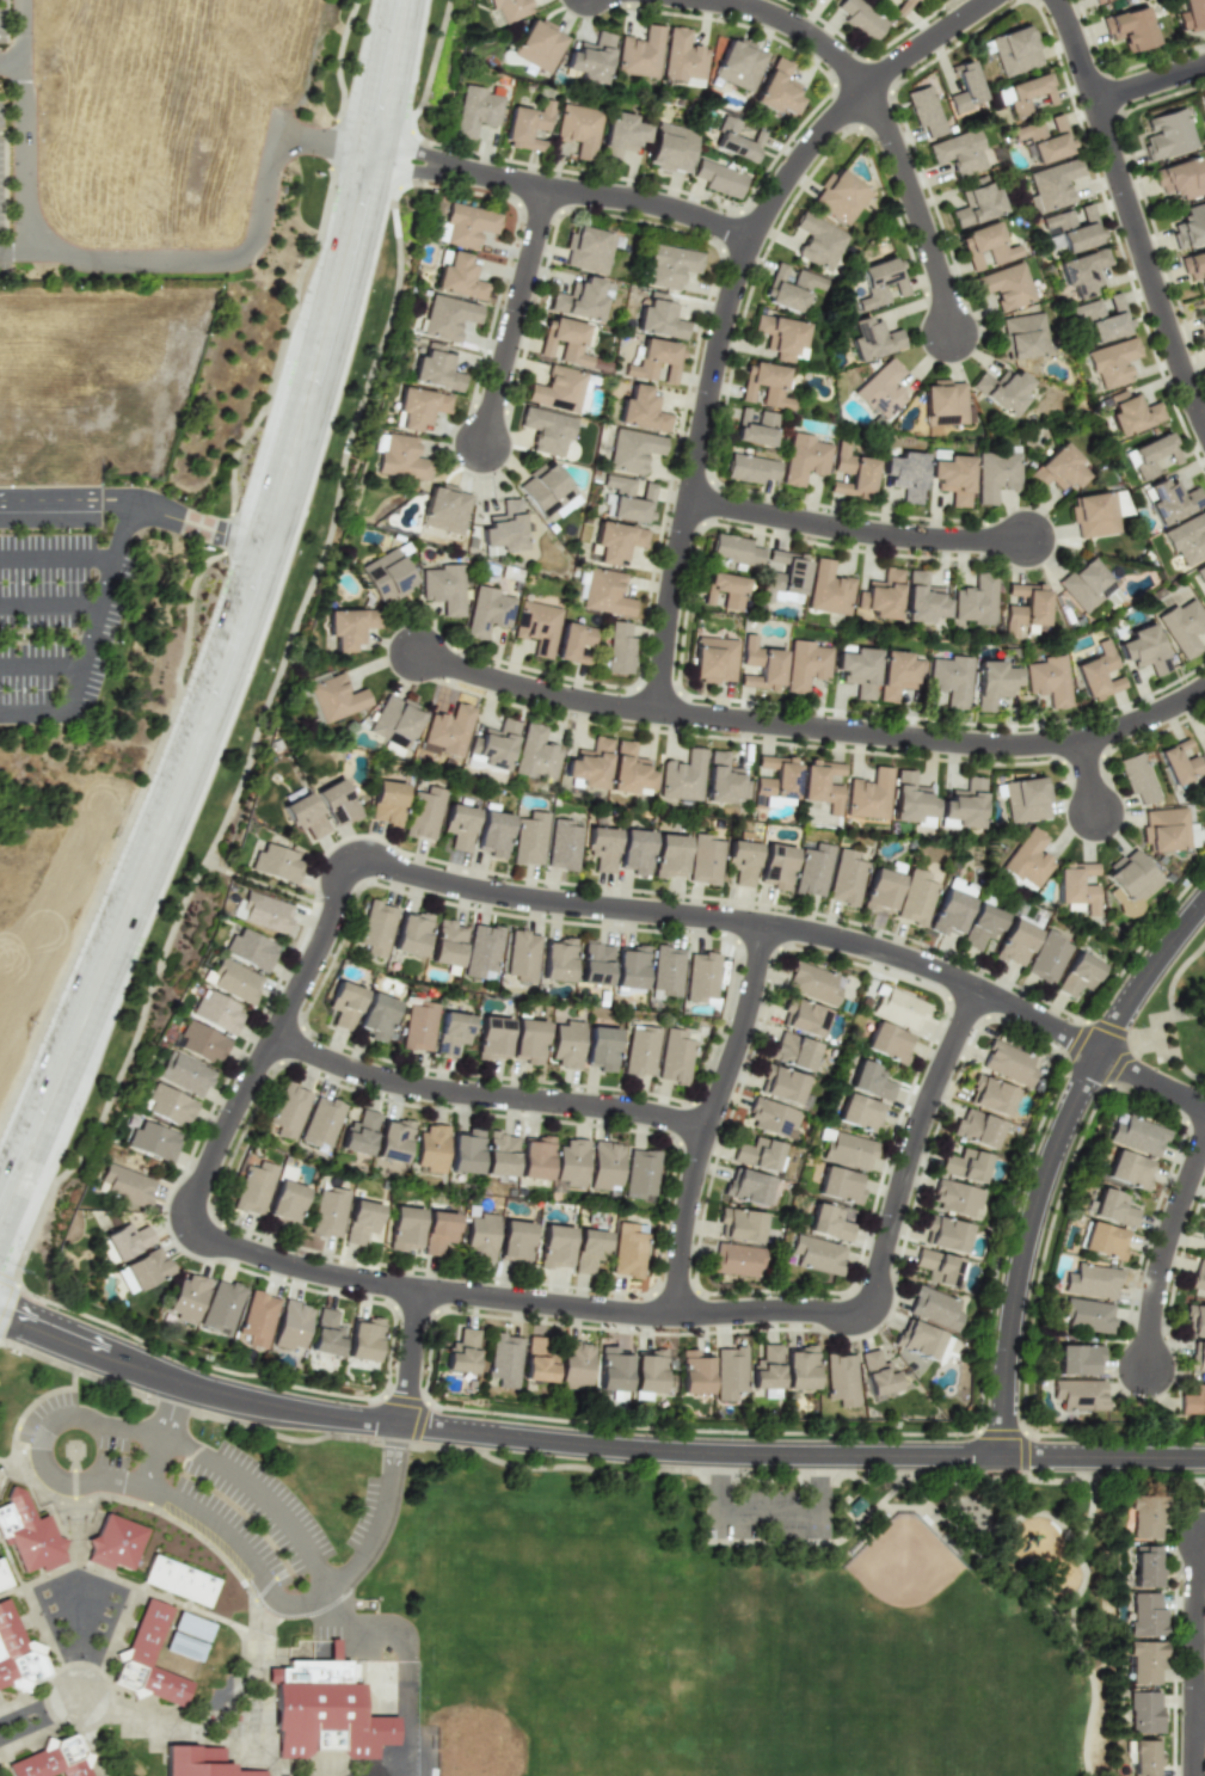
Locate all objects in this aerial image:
building: (1095, 0)
building: (890, 2)
building: (900, 7)
building: (509, 8)
building: (1191, 14)
building: (860, 18)
road: (797, 26)
building: (1129, 29)
building: (539, 45)
building: (1014, 48)
building: (639, 54)
building: (590, 57)
building: (682, 59)
street lamp: (351, 60)
road: (11, 63)
building: (738, 64)
road: (370, 75)
road: (401, 78)
road: (1150, 84)
building: (964, 87)
building: (776, 88)
street lamp: (430, 91)
building: (1027, 93)
building: (1204, 100)
street lamp: (41, 111)
building: (474, 111)
building: (924, 111)
road: (279, 124)
building: (525, 125)
building: (577, 129)
building: (621, 134)
building: (1167, 134)
building: (1045, 137)
building: (736, 139)
building: (670, 148)
road: (371, 153)
building: (958, 153)
street lamp: (311, 158)
building: (718, 178)
building: (1180, 178)
building: (1051, 185)
road: (571, 192)
building: (840, 196)
building: (976, 203)
road: (918, 210)
street lamp: (248, 211)
road: (1130, 211)
building: (467, 225)
building: (1189, 226)
building: (1074, 228)
building: (817, 241)
building: (1053, 244)
building: (985, 245)
street lamp: (183, 246)
street lamp: (94, 248)
building: (589, 248)
street lamp: (301, 251)
road: (24, 253)
road: (331, 256)
road: (119, 262)
building: (669, 265)
building: (1193, 268)
building: (1082, 272)
road: (359, 274)
building: (459, 278)
building: (881, 282)
building: (1006, 287)
building: (789, 288)
building: (579, 299)
building: (1204, 299)
road: (730, 306)
building: (1103, 315)
road: (517, 317)
building: (447, 318)
building: (659, 319)
building: (1203, 322)
building: (780, 336)
building: (1022, 336)
building: (873, 337)
building: (564, 342)
building: (656, 361)
building: (1113, 362)
building: (436, 370)
street lamp: (362, 375)
building: (764, 385)
building: (561, 389)
building: (881, 389)
building: (1002, 389)
building: (945, 404)
building: (419, 407)
building: (641, 411)
building: (1132, 412)
building: (546, 430)
building: (632, 450)
road: (275, 453)
building: (1150, 455)
building: (399, 457)
building: (805, 459)
building: (750, 468)
building: (1058, 468)
road: (303, 472)
building: (850, 473)
building: (904, 473)
building: (996, 473)
building: (951, 474)
building: (547, 492)
building: (625, 499)
building: (1169, 499)
road: (66, 500)
building: (444, 509)
street lamp: (227, 514)
building: (1093, 514)
building: (503, 529)
road: (859, 531)
building: (1186, 539)
building: (615, 541)
building: (734, 551)
road: (59, 558)
building: (1200, 573)
building: (386, 576)
road: (111, 577)
building: (782, 578)
building: (1087, 585)
building: (442, 588)
building: (828, 588)
building: (724, 590)
building: (602, 592)
building: (879, 595)
building: (922, 600)
building: (975, 600)
road: (51, 607)
building: (1023, 607)
building: (486, 612)
building: (349, 626)
building: (535, 626)
building: (1182, 626)
road: (47, 635)
building: (572, 643)
building: (619, 649)
building: (1143, 649)
street lamp: (265, 659)
building: (713, 659)
building: (805, 664)
building: (758, 665)
road: (43, 666)
building: (856, 668)
building: (1098, 672)
building: (897, 674)
building: (948, 678)
building: (1046, 680)
building: (992, 682)
road: (536, 690)
building: (334, 698)
building: (394, 721)
building: (447, 731)
road: (26, 737)
road: (935, 740)
building: (491, 745)
building: (534, 752)
building: (1204, 758)
road: (64, 762)
building: (1178, 762)
building: (589, 763)
street lamp: (131, 767)
building: (628, 769)
building: (681, 776)
road: (1090, 776)
building: (1136, 778)
building: (723, 780)
building: (774, 782)
building: (820, 785)
building: (868, 795)
building: (910, 800)
building: (1025, 800)
building: (336, 803)
building: (386, 803)
building: (961, 806)
building: (423, 813)
building: (303, 815)
building: (457, 825)
building: (1163, 829)
building: (492, 834)
building: (1191, 835)
building: (528, 838)
building: (561, 846)
building: (600, 848)
building: (633, 850)
building: (668, 856)
building: (703, 860)
building: (739, 861)
building: (1025, 861)
building: (276, 864)
building: (775, 866)
building: (811, 869)
building: (843, 878)
building: (1127, 881)
building: (1075, 885)
road: (139, 887)
road: (270, 887)
building: (879, 891)
building: (914, 898)
street lamp: (177, 903)
building: (949, 909)
building: (264, 911)
building: (979, 926)
building: (374, 928)
road: (794, 929)
building: (410, 934)
building: (1015, 941)
building: (445, 942)
building: (251, 950)
building: (481, 952)
building: (521, 955)
building: (1046, 957)
building: (557, 959)
building: (594, 963)
building: (629, 966)
building: (666, 970)
building: (1076, 975)
building: (700, 976)
building: (233, 981)
building: (813, 983)
building: (344, 1004)
street lamp: (306, 1008)
building: (897, 1008)
building: (217, 1012)
building: (376, 1016)
building: (803, 1018)
street lamp: (29, 1021)
building: (418, 1025)
building: (451, 1032)
building: (492, 1038)
building: (201, 1041)
building: (527, 1041)
building: (887, 1041)
building: (565, 1045)
building: (600, 1049)
building: (640, 1051)
building: (792, 1051)
street lamp: (748, 1053)
building: (674, 1057)
building: (1007, 1063)
building: (184, 1074)
street lamp: (468, 1077)
building: (869, 1081)
building: (780, 1084)
street lamp: (351, 1087)
building: (990, 1095)
road: (488, 1096)
building: (167, 1105)
street lamp: (215, 1110)
building: (287, 1112)
building: (859, 1113)
building: (770, 1117)
road: (713, 1118)
street lamp: (558, 1120)
building: (320, 1121)
building: (976, 1129)
building: (358, 1133)
building: (1136, 1135)
flagpole: (518, 1136)
building: (153, 1141)
building: (392, 1141)
building: (430, 1148)
building: (847, 1149)
road: (217, 1150)
building: (465, 1151)
building: (499, 1154)
building: (756, 1154)
building: (535, 1157)
street lamp: (681, 1161)
road: (1052, 1161)
building: (570, 1162)
building: (604, 1164)
building: (964, 1164)
building: (1126, 1169)
building: (639, 1173)
building: (127, 1185)
building: (838, 1185)
building: (748, 1186)
building: (253, 1188)
building: (955, 1198)
building: (284, 1202)
building: (1111, 1207)
building: (327, 1210)
building: (359, 1221)
building: (828, 1223)
building: (739, 1225)
building: (402, 1228)
building: (438, 1233)
building: (945, 1234)
building: (1203, 1235)
building: (479, 1237)
building: (127, 1240)
street lamp: (166, 1240)
building: (514, 1241)
building: (1103, 1241)
building: (554, 1246)
building: (588, 1249)
building: (627, 1249)
street lamp: (296, 1252)
building: (1204, 1252)
road: (1164, 1253)
building: (817, 1254)
building: (736, 1259)
building: (936, 1267)
building: (142, 1270)
street lamp: (23, 1274)
building: (1198, 1277)
building: (1092, 1282)
building: (187, 1297)
building: (220, 1307)
building: (934, 1308)
road: (746, 1313)
building: (1087, 1315)
building: (257, 1319)
building: (1194, 1321)
traffic signals: (18, 1322)
building: (290, 1325)
building: (325, 1333)
building: (362, 1339)
building: (922, 1340)
street lamp: (5, 1348)
building: (461, 1352)
building: (1197, 1357)
building: (504, 1359)
building: (1077, 1359)
building: (536, 1362)
building: (574, 1364)
building: (766, 1368)
building: (799, 1368)
building: (647, 1370)
building: (694, 1371)
building: (728, 1372)
building: (877, 1372)
building: (840, 1379)
building: (1078, 1394)
building: (1193, 1401)
street lamp: (491, 1418)
road: (148, 1431)
road: (493, 1434)
road: (167, 1437)
road: (1103, 1458)
road: (770, 1514)
building: (1145, 1516)
building: (27, 1535)
building: (113, 1543)
road: (1083, 1548)
building: (1145, 1567)
building: (4, 1578)
building: (178, 1580)
road: (1039, 1596)
road: (313, 1600)
building: (1145, 1615)
building: (191, 1626)
park: (920, 1627)
road: (1195, 1630)
building: (17, 1653)
building: (148, 1657)
building: (1145, 1661)
building: (1143, 1712)
building: (324, 1713)
road: (1195, 1740)
building: (1143, 1758)
building: (50, 1760)
building: (199, 1762)

